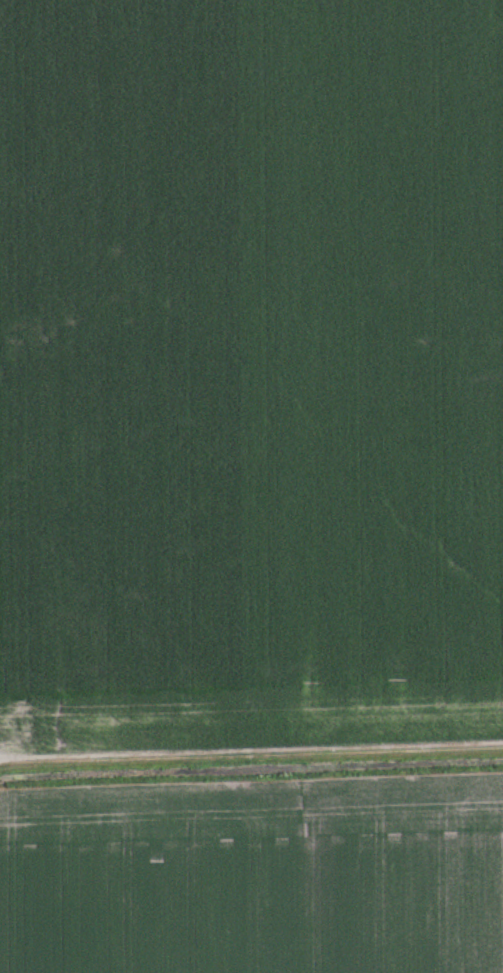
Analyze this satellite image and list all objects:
crop: (250, 371)
crop: (255, 875)

